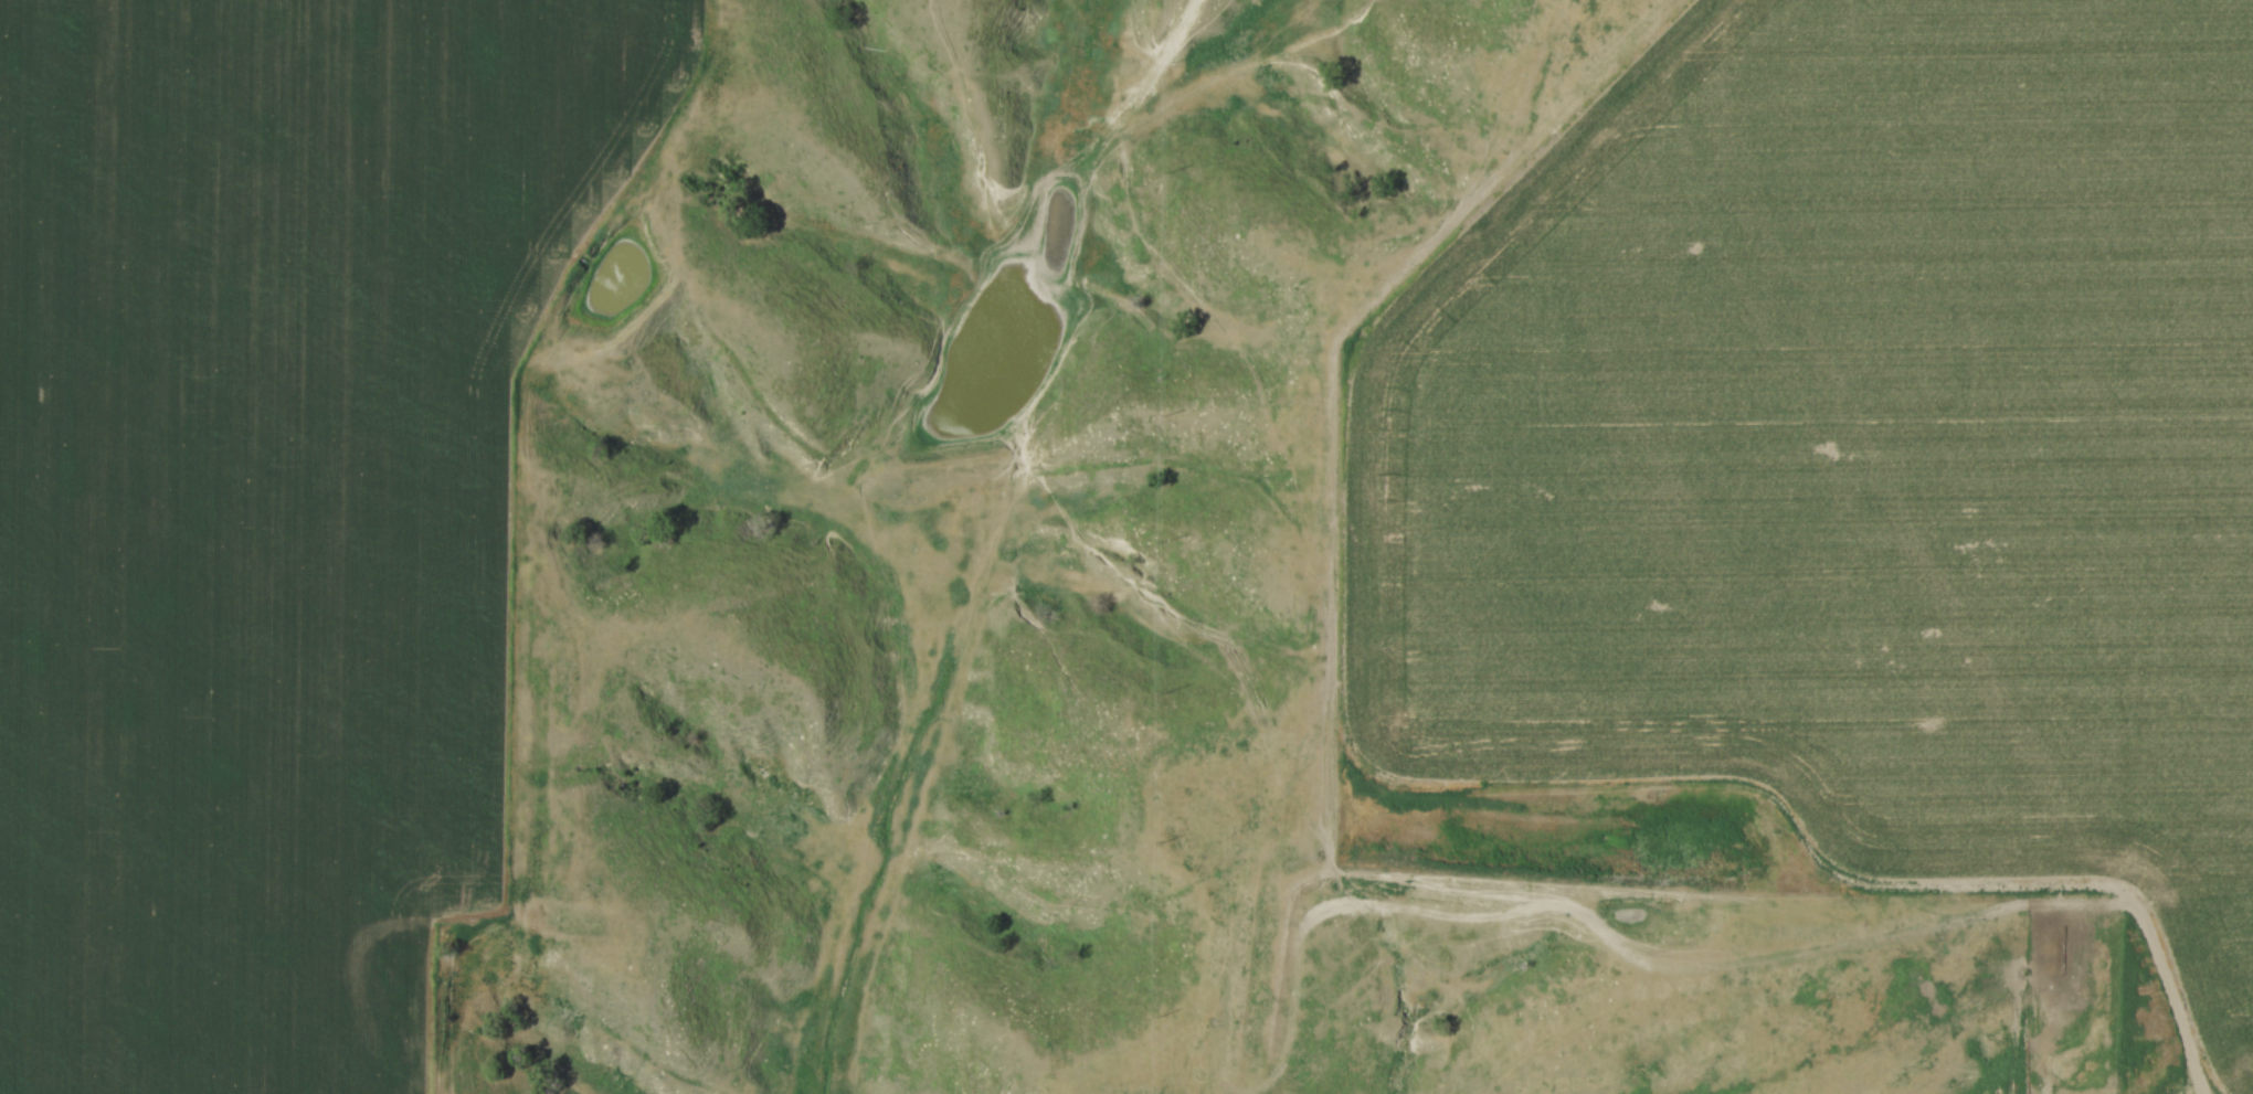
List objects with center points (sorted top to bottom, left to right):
crop: (1853, 455)
crop: (278, 507)

